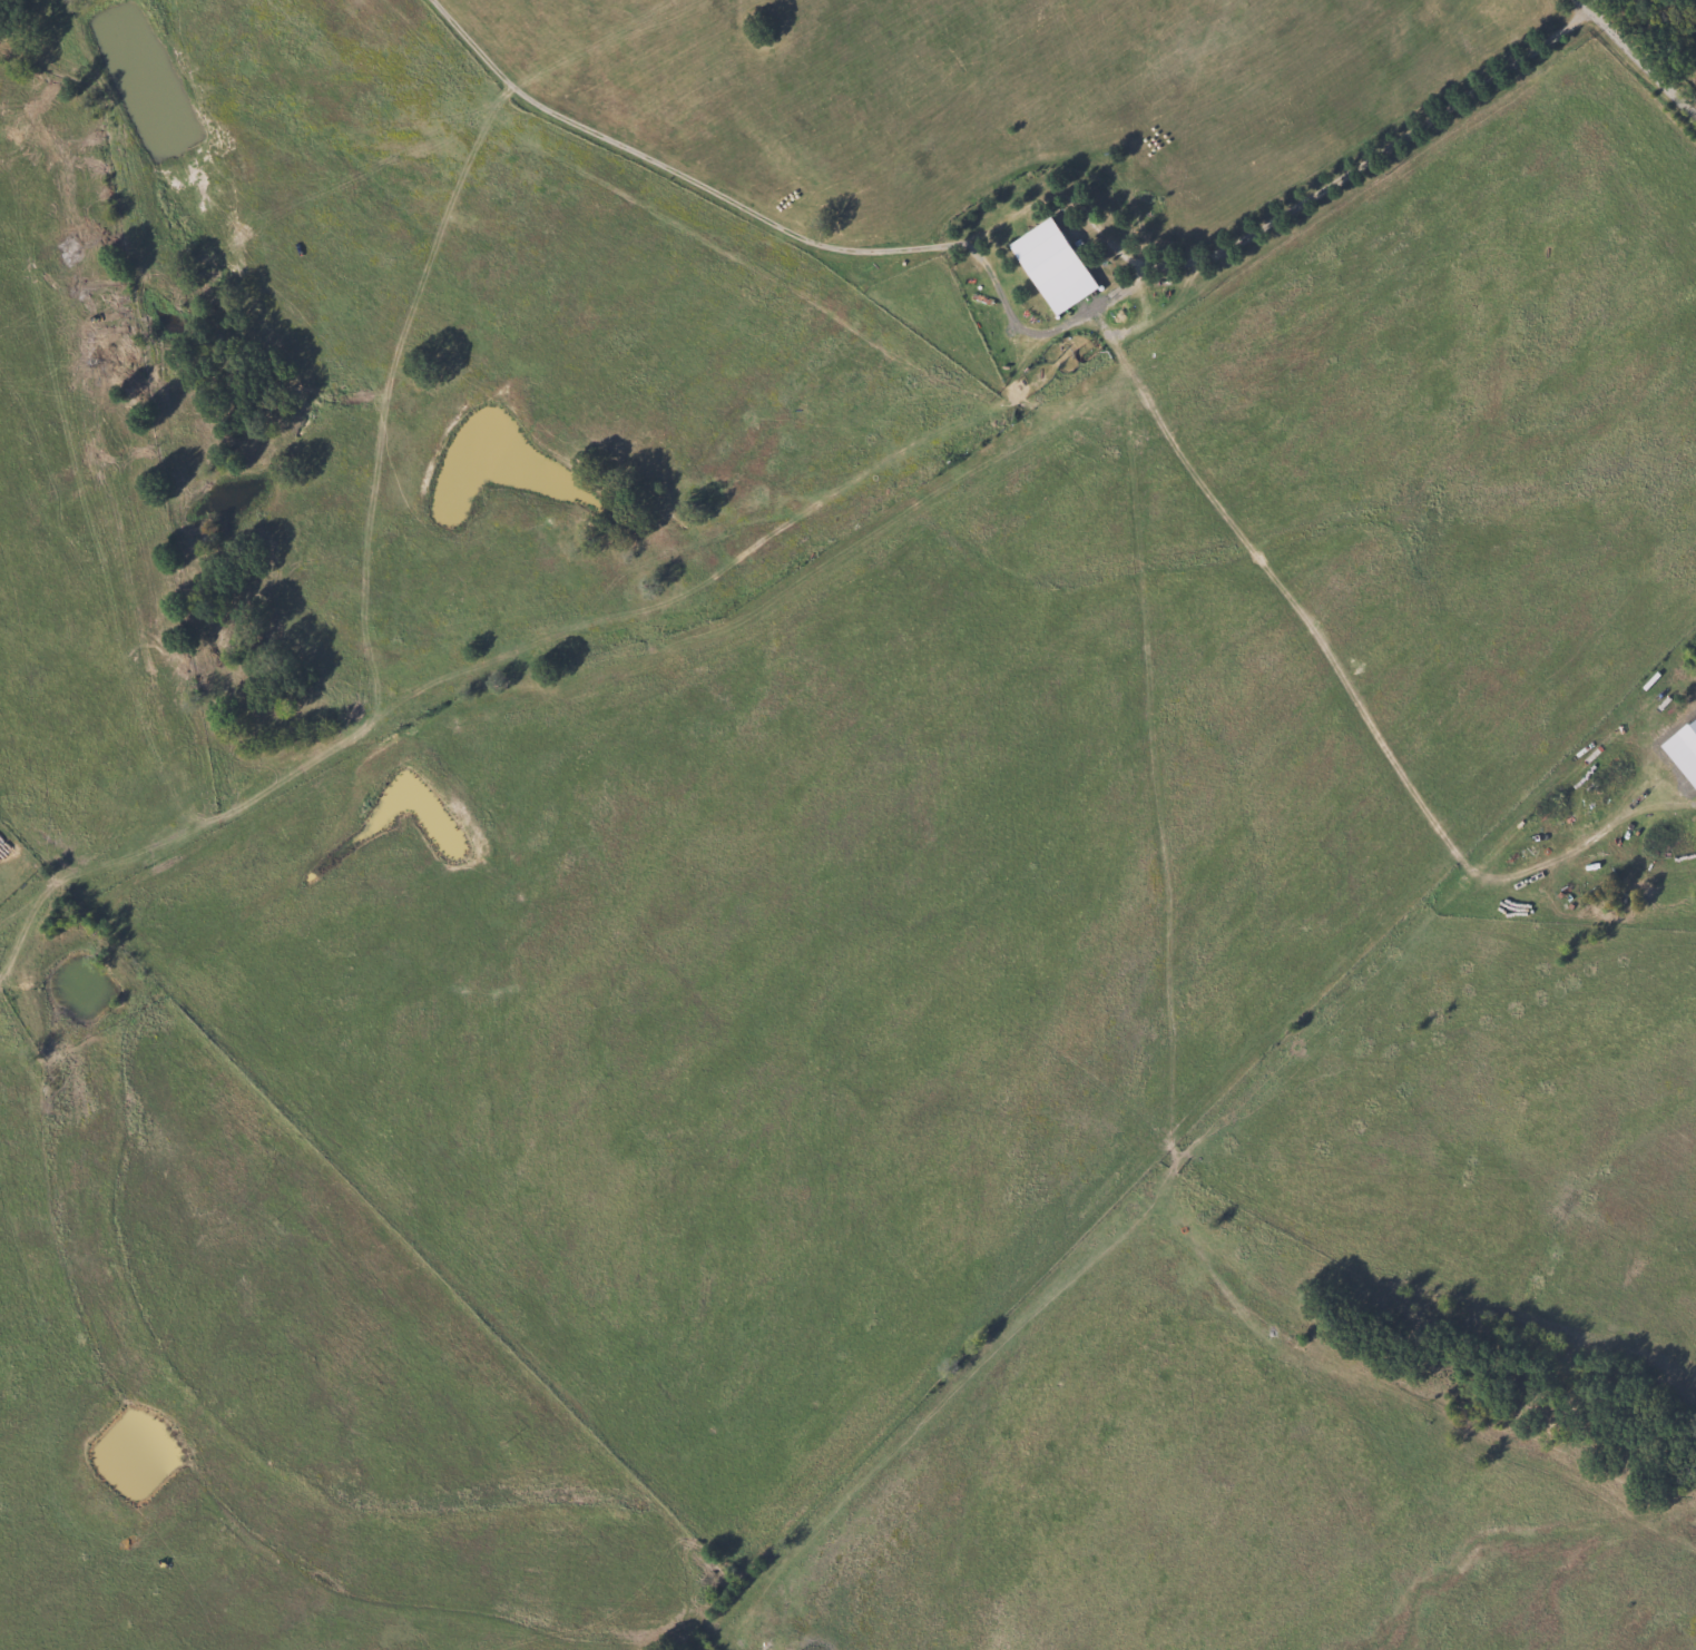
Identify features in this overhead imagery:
road: (1637, 58)
road: (1019, 206)
building: (1046, 266)
building: (1682, 750)

